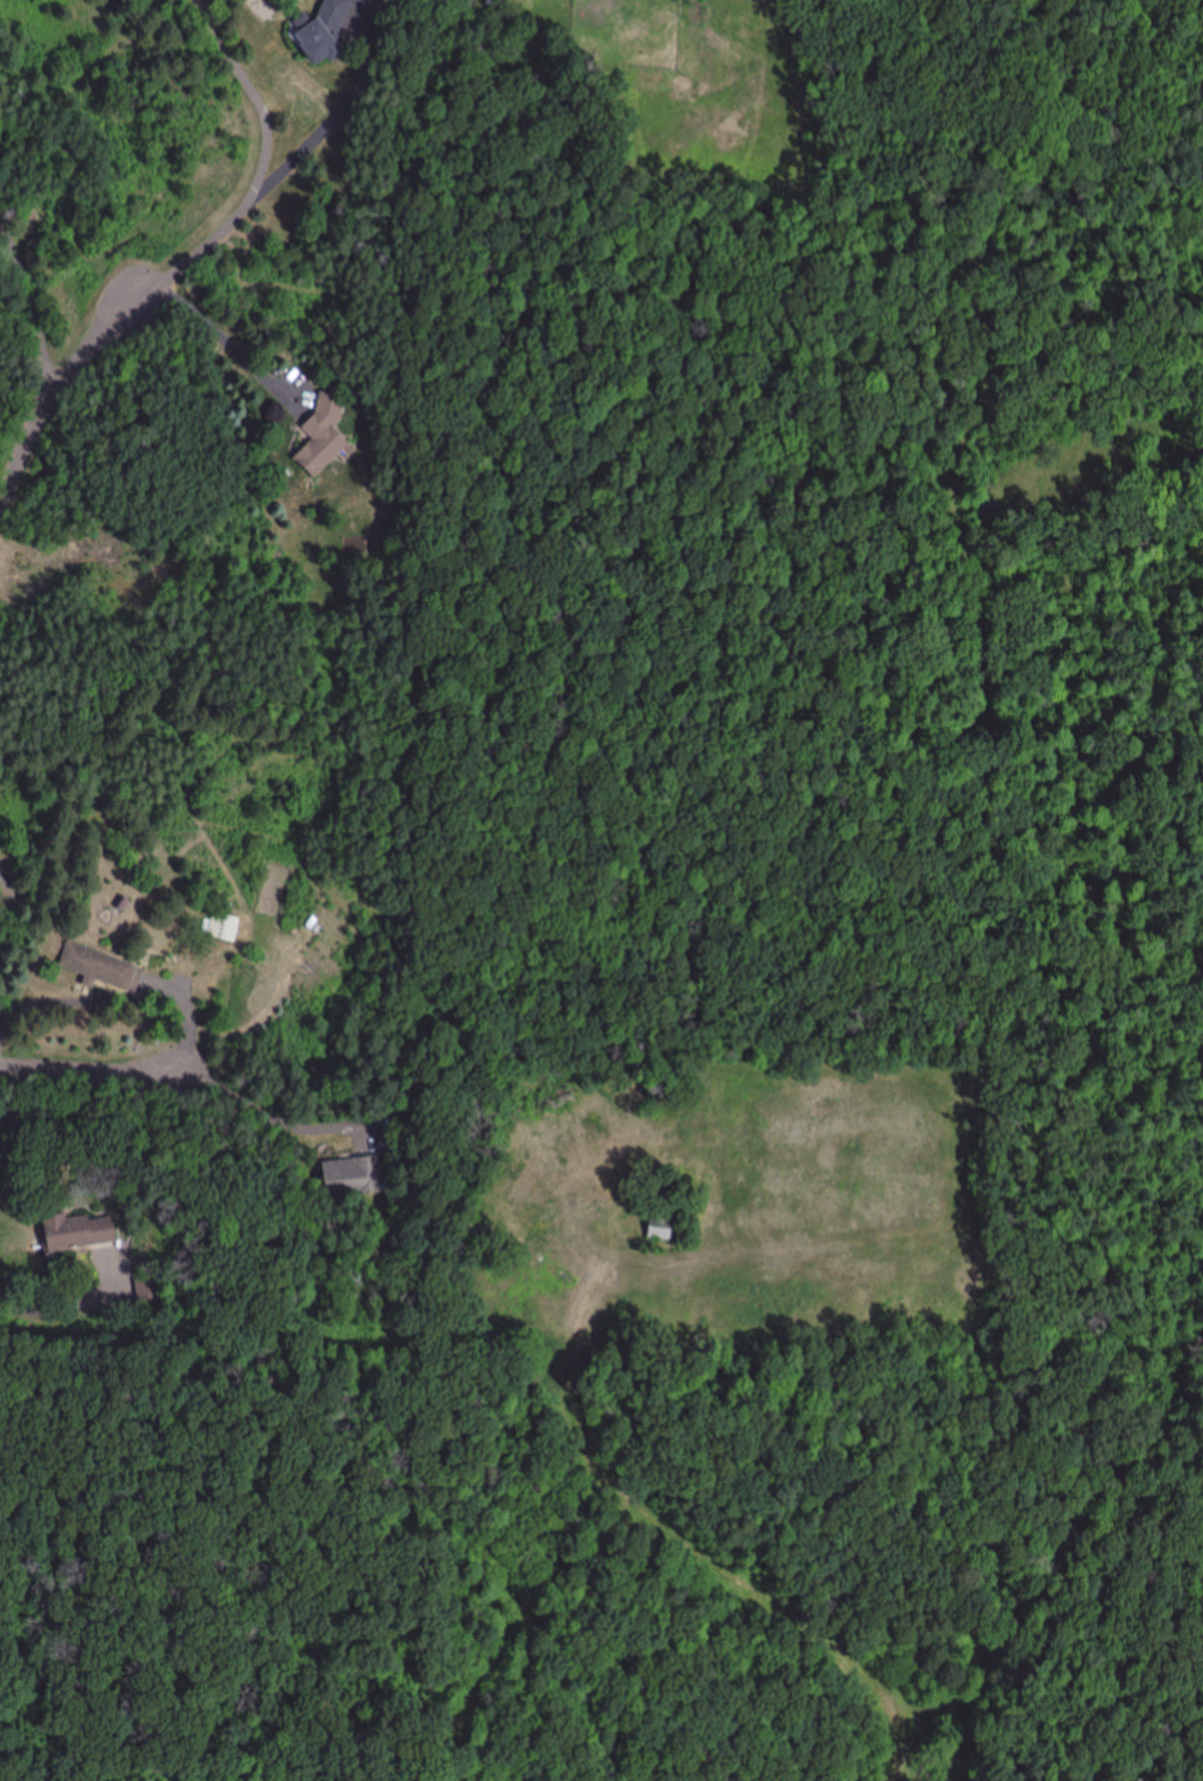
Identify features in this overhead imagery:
building: (315, 34)
road: (167, 384)
road: (50, 397)
building: (318, 434)
building: (219, 926)
building: (96, 968)
road: (91, 1069)
building: (351, 1177)
building: (660, 1227)
building: (67, 1232)
road: (208, 1677)

